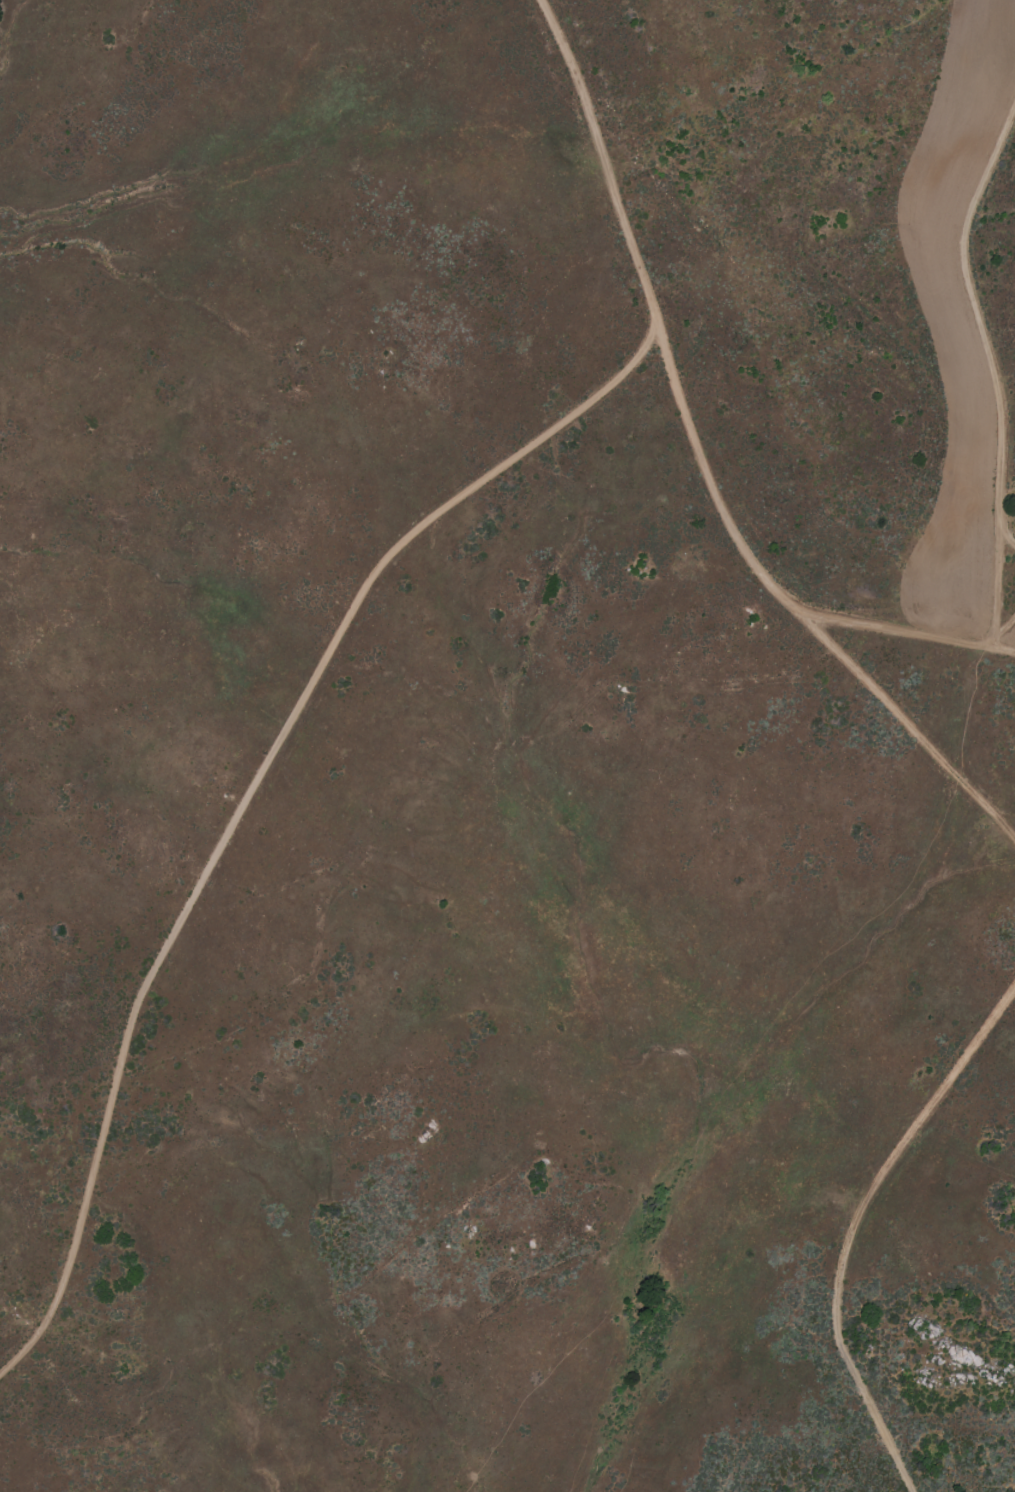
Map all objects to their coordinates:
road: (982, 329)

